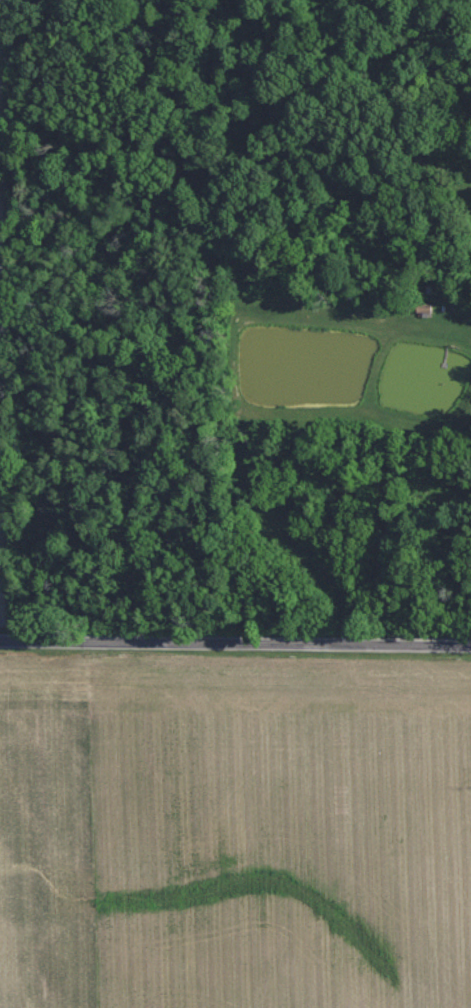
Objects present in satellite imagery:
road: (235, 641)

